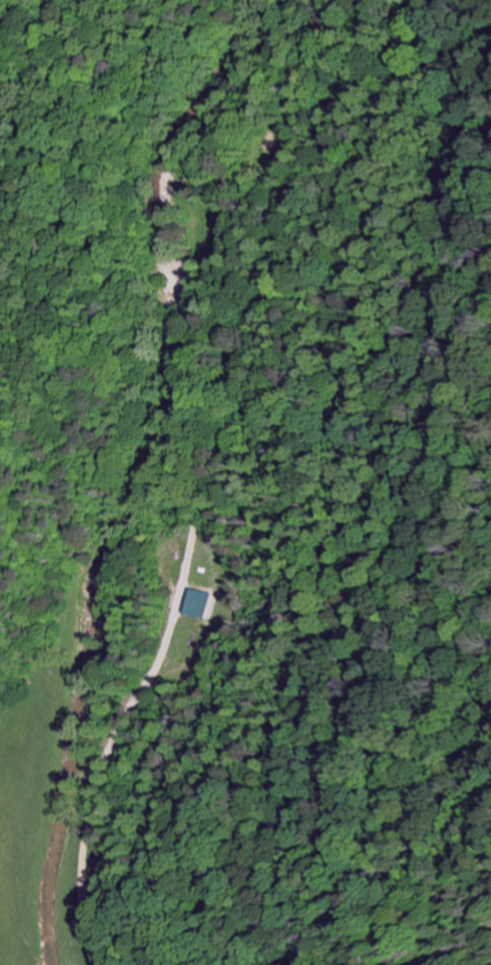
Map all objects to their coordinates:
road: (103, 445)
building: (206, 602)

